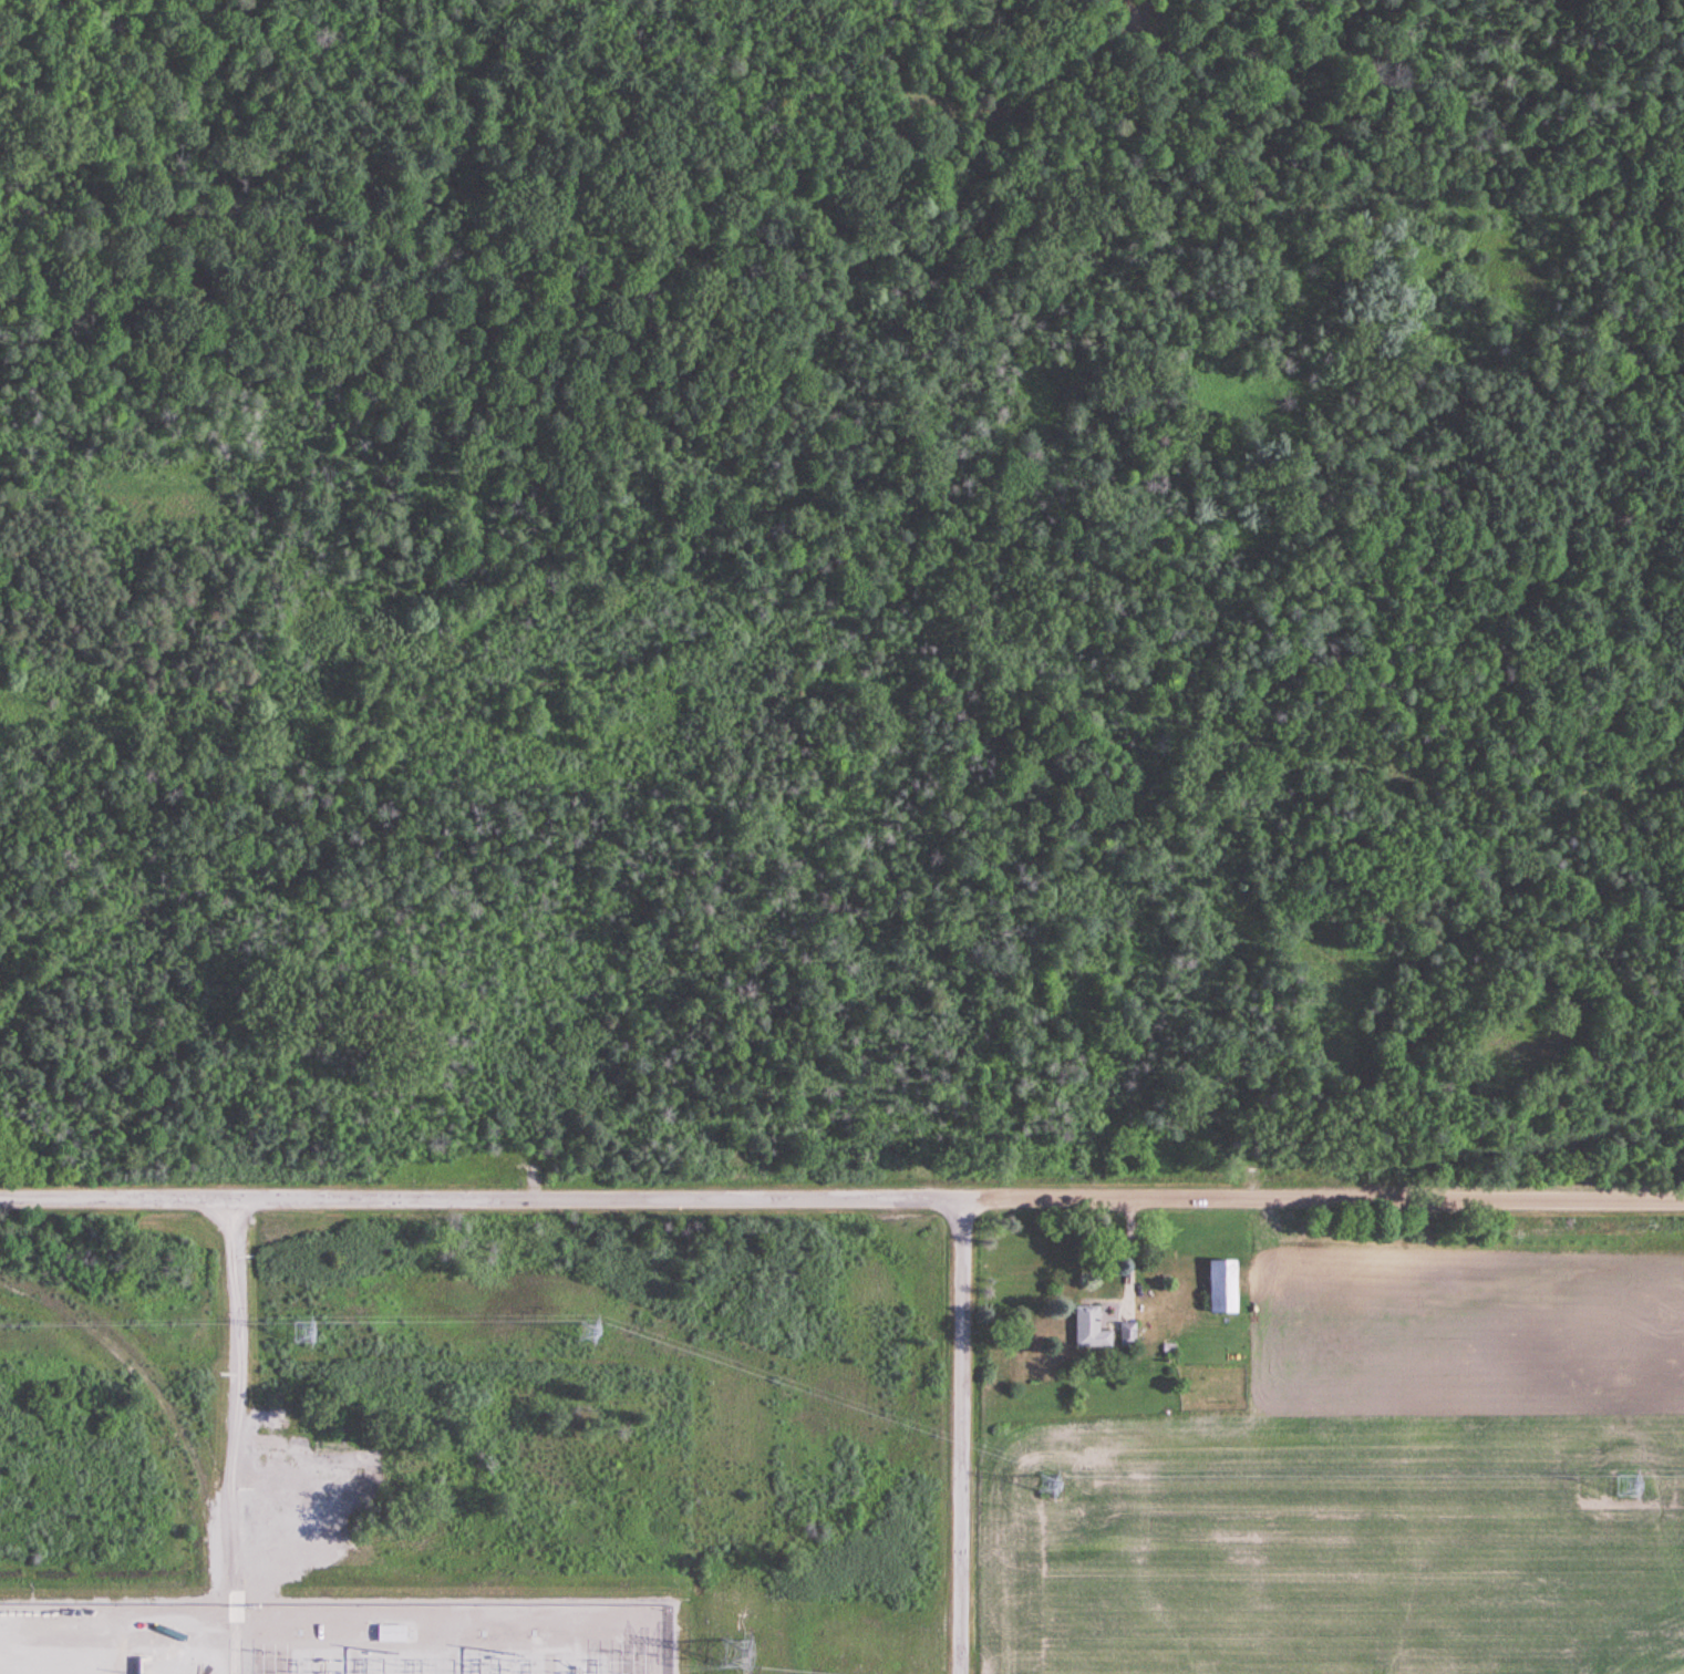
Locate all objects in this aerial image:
road: (481, 1198)
road: (1323, 1199)
building: (1221, 1288)
power tower: (306, 1330)
building: (1089, 1330)
building: (1128, 1334)
power tower: (596, 1336)
road: (236, 1401)
road: (962, 1436)
power tower: (1051, 1487)
building: (1628, 1487)
power tower: (1628, 1488)
building: (391, 1632)
road: (238, 1639)
power substation: (334, 1639)
power tower: (738, 1656)

